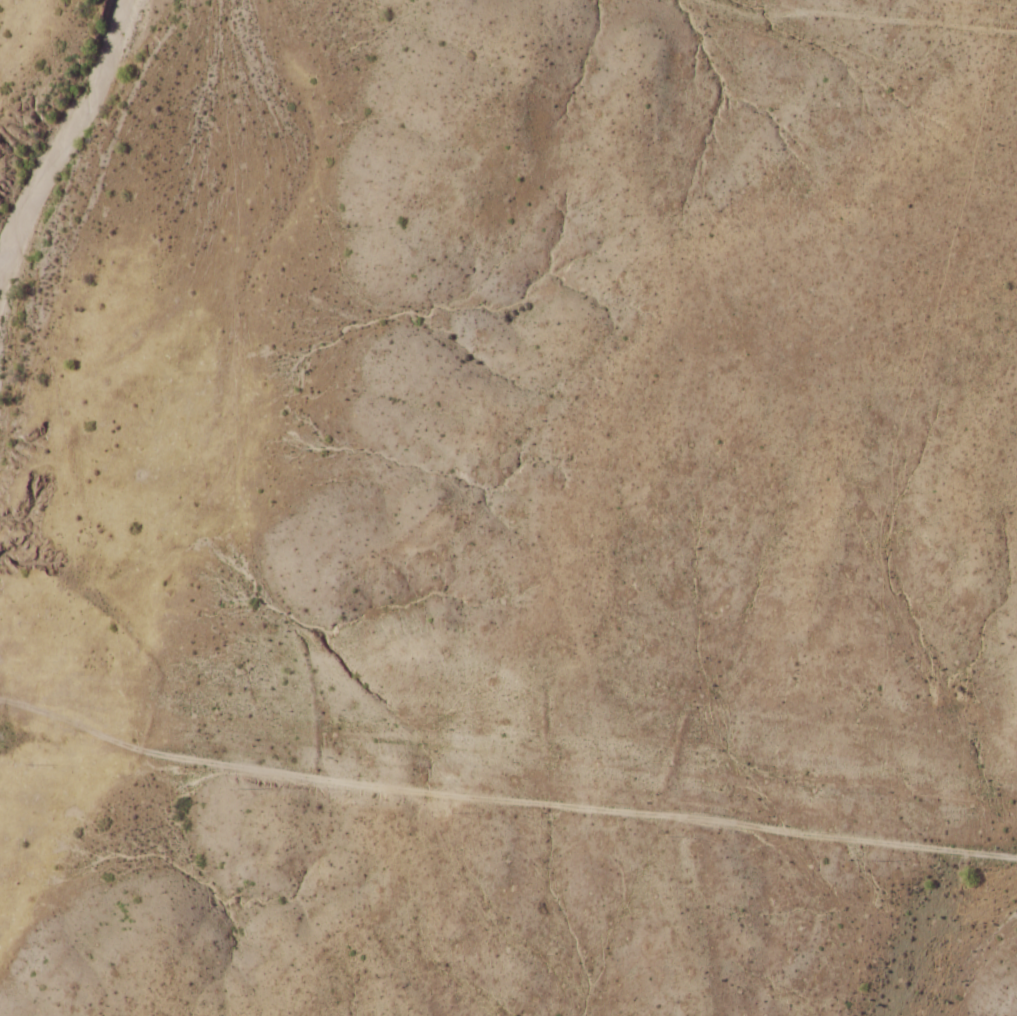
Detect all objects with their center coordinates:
road: (508, 792)

